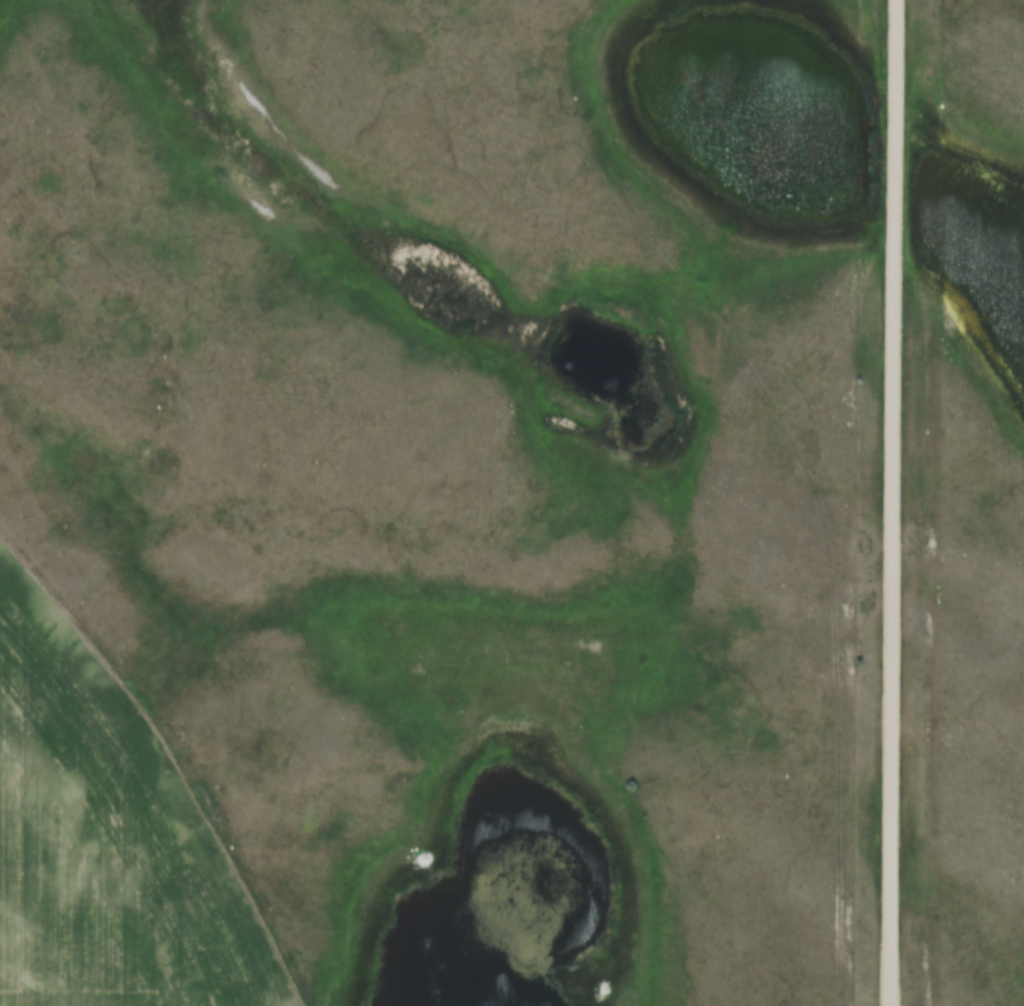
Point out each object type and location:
building: (892, 463)
road: (894, 502)

